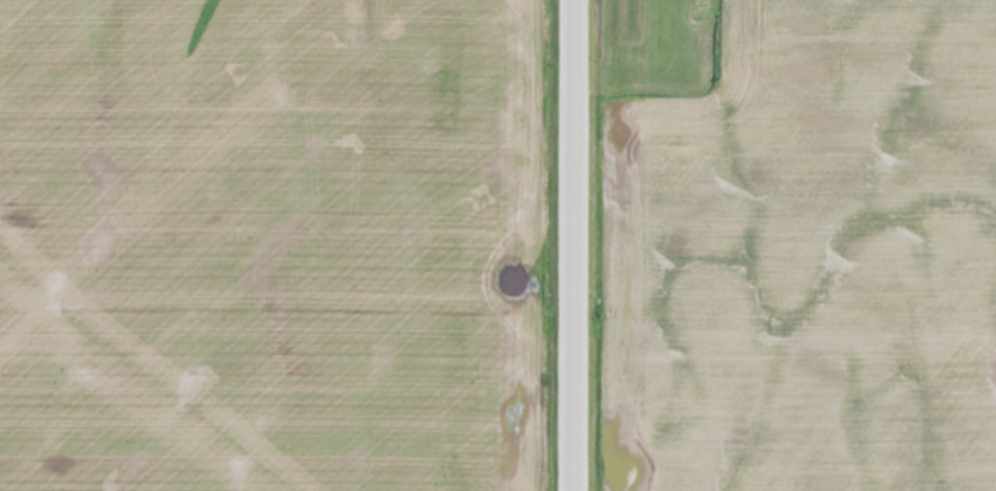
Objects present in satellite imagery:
road: (573, 245)

